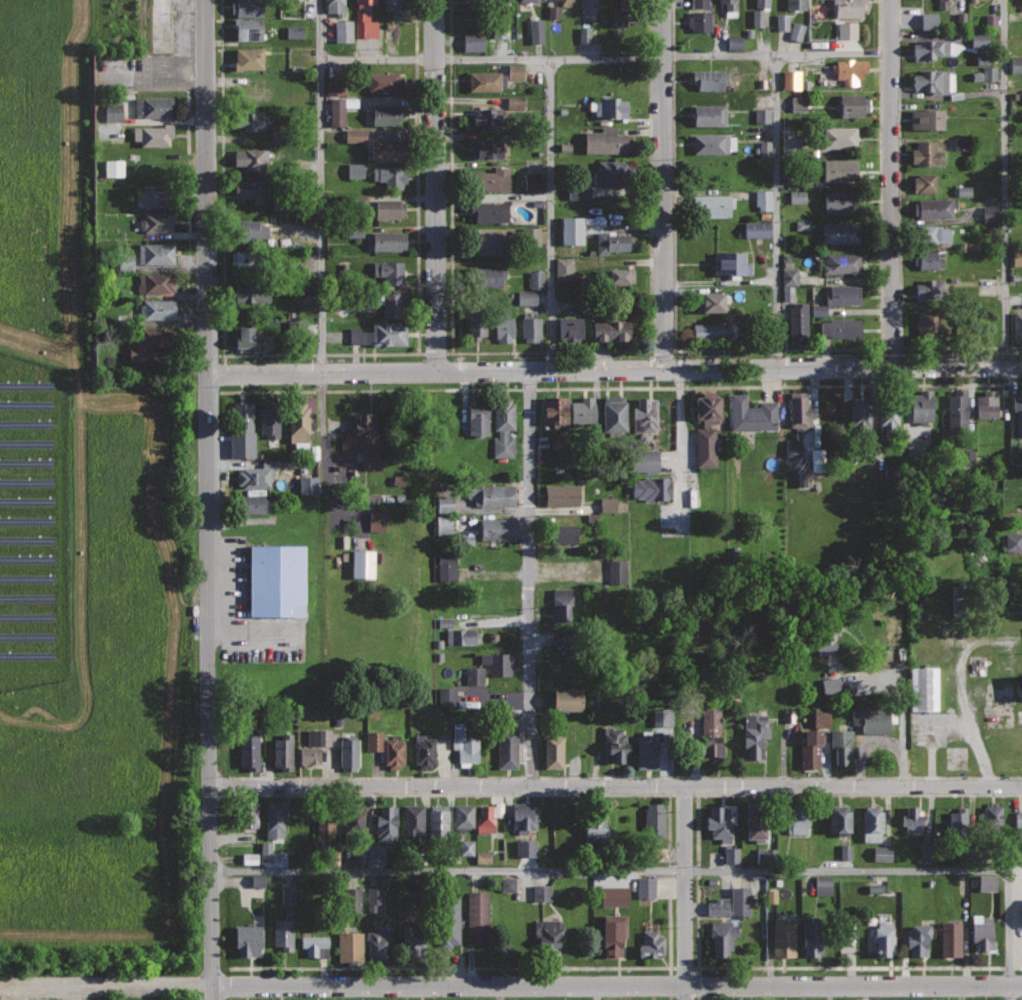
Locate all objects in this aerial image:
building: (528, 0)
building: (953, 0)
building: (973, 0)
building: (508, 1)
building: (363, 2)
building: (567, 2)
building: (625, 3)
building: (762, 3)
building: (392, 4)
building: (698, 4)
building: (797, 4)
building: (943, 4)
building: (590, 5)
building: (336, 6)
building: (247, 8)
building: (731, 8)
building: (849, 8)
building: (553, 12)
building: (617, 18)
building: (756, 18)
building: (959, 18)
building: (699, 20)
building: (990, 21)
building: (781, 22)
building: (928, 22)
building: (364, 26)
building: (250, 28)
building: (846, 30)
building: (342, 31)
building: (499, 31)
building: (535, 31)
building: (293, 32)
building: (796, 32)
building: (584, 35)
building: (978, 40)
building: (472, 42)
building: (733, 43)
building: (931, 48)
building: (248, 58)
road: (605, 58)
building: (1016, 65)
building: (850, 69)
building: (514, 72)
building: (990, 74)
building: (710, 79)
building: (487, 80)
building: (790, 80)
building: (934, 81)
building: (386, 82)
building: (334, 86)
building: (798, 104)
building: (854, 104)
building: (153, 105)
building: (610, 107)
building: (337, 111)
building: (112, 113)
building: (387, 114)
building: (710, 115)
building: (488, 116)
building: (761, 116)
building: (927, 118)
building: (250, 120)
building: (154, 134)
building: (354, 136)
building: (839, 136)
building: (607, 140)
building: (714, 142)
building: (959, 143)
building: (789, 145)
building: (486, 148)
building: (764, 148)
building: (389, 150)
building: (927, 153)
building: (252, 158)
building: (144, 164)
building: (112, 168)
building: (840, 169)
building: (354, 170)
building: (614, 173)
building: (390, 175)
building: (493, 178)
building: (532, 181)
building: (925, 182)
road: (1005, 182)
road: (892, 183)
road: (664, 184)
road: (321, 186)
road: (437, 186)
building: (252, 189)
building: (578, 191)
building: (963, 191)
building: (158, 195)
building: (796, 197)
building: (358, 200)
building: (762, 200)
building: (837, 201)
building: (713, 205)
building: (935, 206)
building: (390, 207)
building: (490, 211)
road: (777, 212)
building: (989, 214)
road: (551, 215)
building: (156, 221)
building: (802, 225)
building: (756, 229)
building: (250, 230)
building: (570, 231)
building: (353, 232)
building: (841, 232)
road: (899, 234)
building: (932, 234)
building: (529, 236)
building: (389, 240)
building: (612, 242)
building: (491, 244)
building: (157, 253)
building: (248, 258)
building: (1016, 258)
building: (926, 259)
building: (842, 262)
building: (732, 263)
building: (563, 268)
building: (389, 271)
building: (618, 274)
building: (490, 275)
building: (789, 277)
building: (156, 282)
road: (721, 285)
building: (530, 289)
building: (930, 289)
building: (253, 292)
building: (787, 293)
building: (837, 298)
building: (710, 302)
building: (394, 303)
building: (158, 309)
building: (798, 319)
building: (477, 325)
building: (530, 326)
building: (1018, 326)
building: (841, 327)
building: (504, 328)
building: (570, 328)
building: (612, 328)
building: (927, 328)
building: (715, 331)
building: (381, 334)
building: (153, 340)
building: (249, 340)
road: (776, 350)
road: (550, 352)
road: (320, 354)
road: (615, 370)
road: (779, 386)
road: (370, 390)
building: (986, 402)
building: (923, 404)
building: (1018, 409)
building: (448, 410)
building: (556, 410)
building: (799, 410)
building: (583, 411)
building: (889, 411)
building: (958, 411)
building: (613, 412)
building: (751, 413)
building: (861, 413)
building: (645, 414)
building: (270, 417)
building: (478, 418)
building: (299, 421)
building: (504, 427)
building: (243, 430)
building: (364, 440)
building: (557, 442)
building: (706, 447)
building: (792, 448)
road: (681, 450)
building: (816, 460)
building: (643, 461)
building: (256, 474)
building: (804, 478)
building: (397, 481)
building: (306, 485)
building: (653, 487)
building: (254, 492)
building: (492, 495)
building: (562, 495)
road: (208, 499)
building: (254, 503)
building: (444, 503)
building: (606, 505)
solar farm: (32, 521)
building: (376, 521)
building: (443, 525)
building: (497, 528)
building: (561, 532)
building: (1013, 543)
building: (362, 565)
building: (447, 565)
building: (617, 573)
road: (529, 579)
building: (277, 580)
building: (561, 603)
building: (824, 634)
building: (464, 635)
building: (498, 663)
building: (472, 676)
building: (829, 686)
building: (925, 689)
building: (1021, 689)
building: (446, 697)
building: (566, 699)
building: (593, 701)
building: (661, 720)
building: (871, 720)
building: (711, 730)
building: (755, 734)
building: (813, 738)
building: (315, 744)
building: (465, 745)
building: (615, 745)
building: (387, 746)
building: (842, 746)
building: (507, 748)
building: (249, 749)
building: (425, 750)
building: (284, 751)
building: (554, 751)
building: (647, 751)
building: (349, 753)
road: (377, 776)
road: (777, 776)
road: (615, 787)
road: (445, 794)
building: (250, 811)
building: (525, 815)
building: (488, 816)
building: (464, 817)
building: (275, 818)
building: (327, 818)
building: (993, 818)
building: (354, 819)
building: (799, 819)
building: (840, 819)
building: (912, 819)
building: (438, 820)
building: (1018, 820)
building: (413, 821)
building: (654, 821)
building: (757, 821)
building: (957, 821)
building: (387, 822)
building: (719, 822)
building: (567, 823)
building: (873, 823)
building: (598, 830)
building: (466, 848)
building: (525, 849)
building: (265, 850)
building: (845, 852)
building: (881, 854)
building: (368, 855)
building: (731, 855)
building: (765, 856)
building: (482, 858)
building: (248, 859)
road: (664, 871)
road: (697, 880)
building: (256, 881)
building: (986, 883)
building: (507, 885)
building: (822, 885)
building: (874, 887)
building: (645, 888)
building: (540, 893)
road: (686, 893)
building: (287, 896)
building: (614, 896)
building: (770, 897)
building: (373, 899)
building: (351, 900)
building: (739, 902)
building: (719, 906)
building: (478, 912)
building: (450, 918)
building: (614, 932)
building: (982, 932)
building: (283, 933)
building: (549, 934)
building: (722, 936)
building: (813, 936)
building: (783, 937)
building: (885, 938)
building: (950, 938)
building: (918, 939)
building: (249, 940)
building: (411, 940)
building: (378, 943)
building: (315, 944)
building: (651, 944)
building: (350, 946)
road: (535, 967)
road: (511, 986)
road: (1011, 993)

